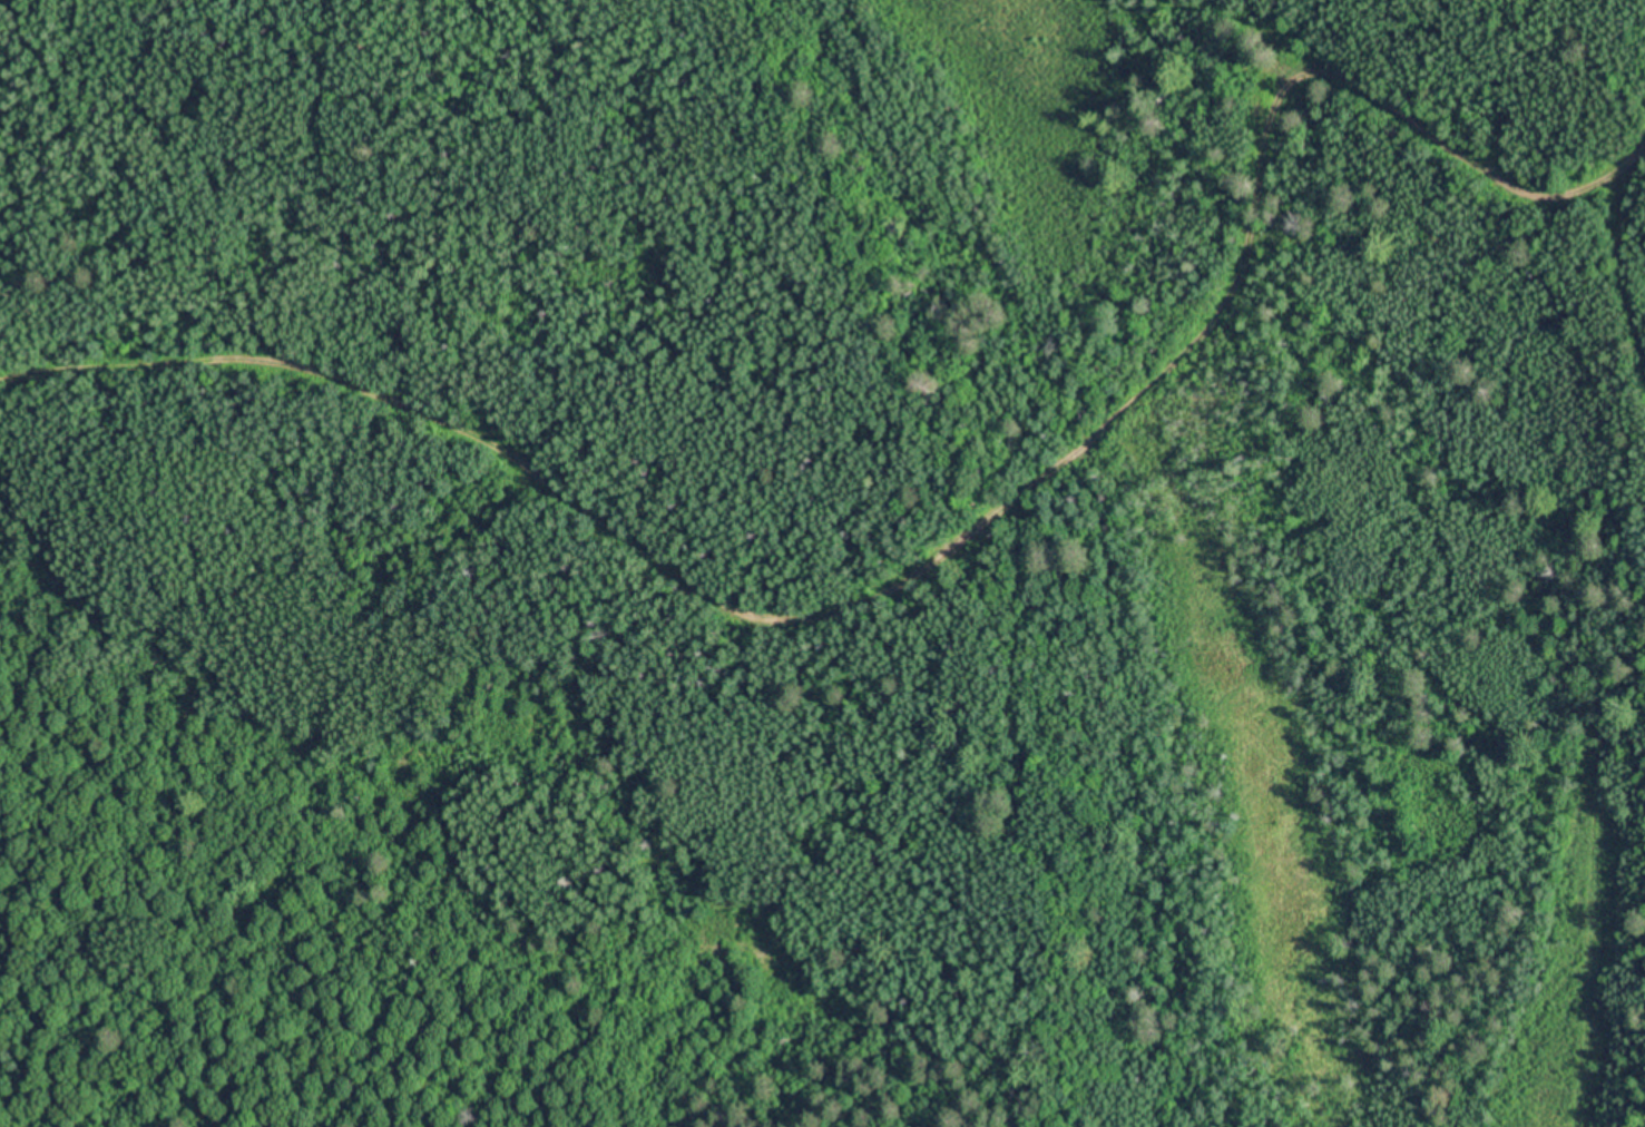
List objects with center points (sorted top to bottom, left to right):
road: (1627, 263)
road: (934, 548)

